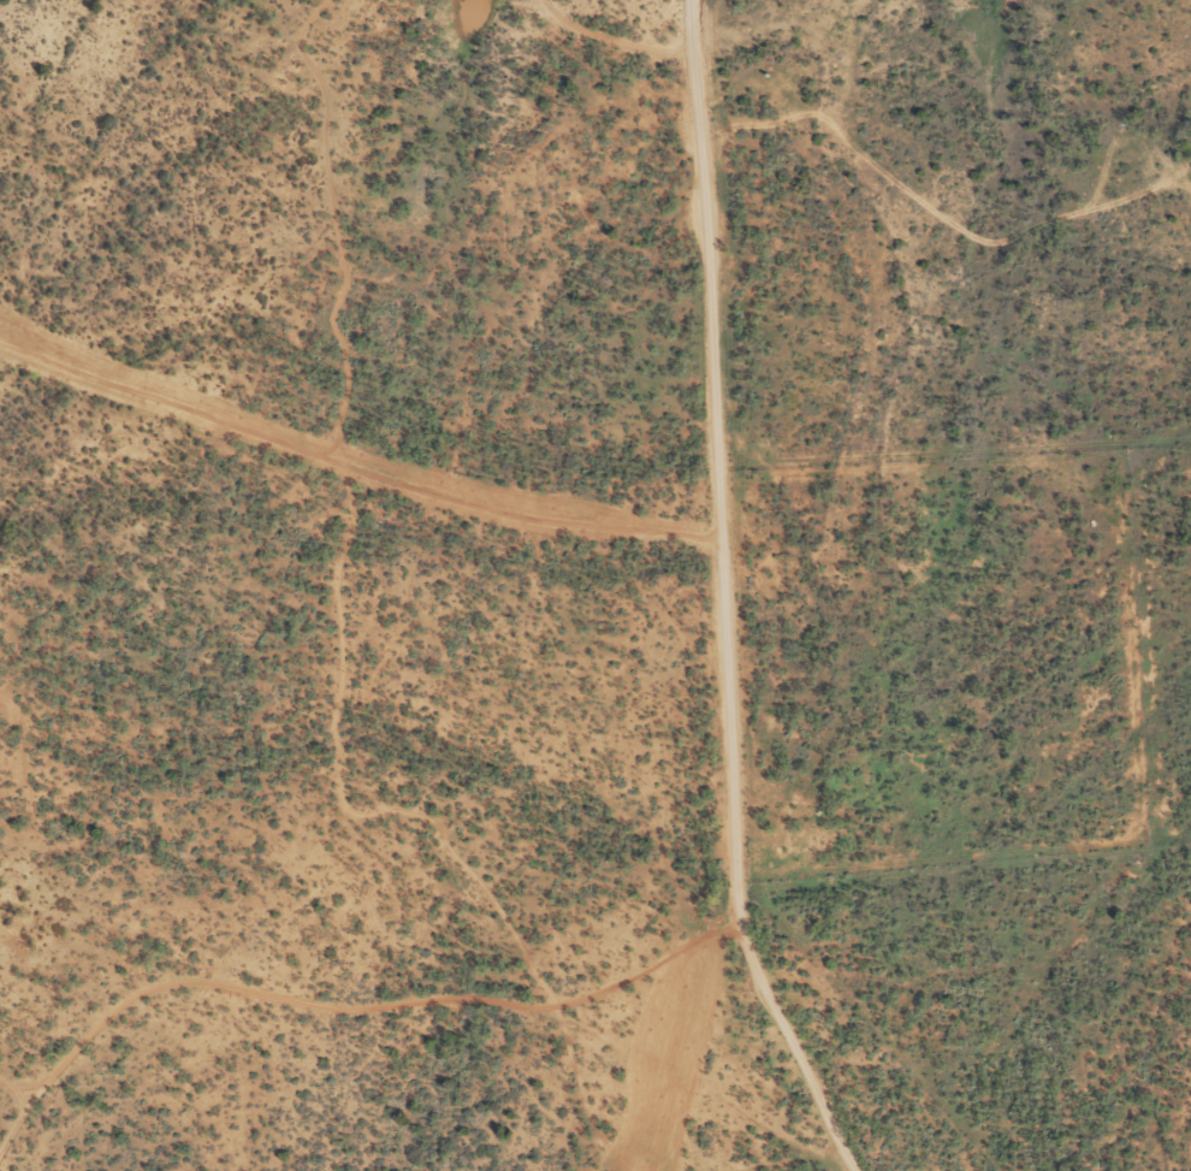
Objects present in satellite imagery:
road: (746, 591)
road: (374, 1031)
road: (672, 1108)

